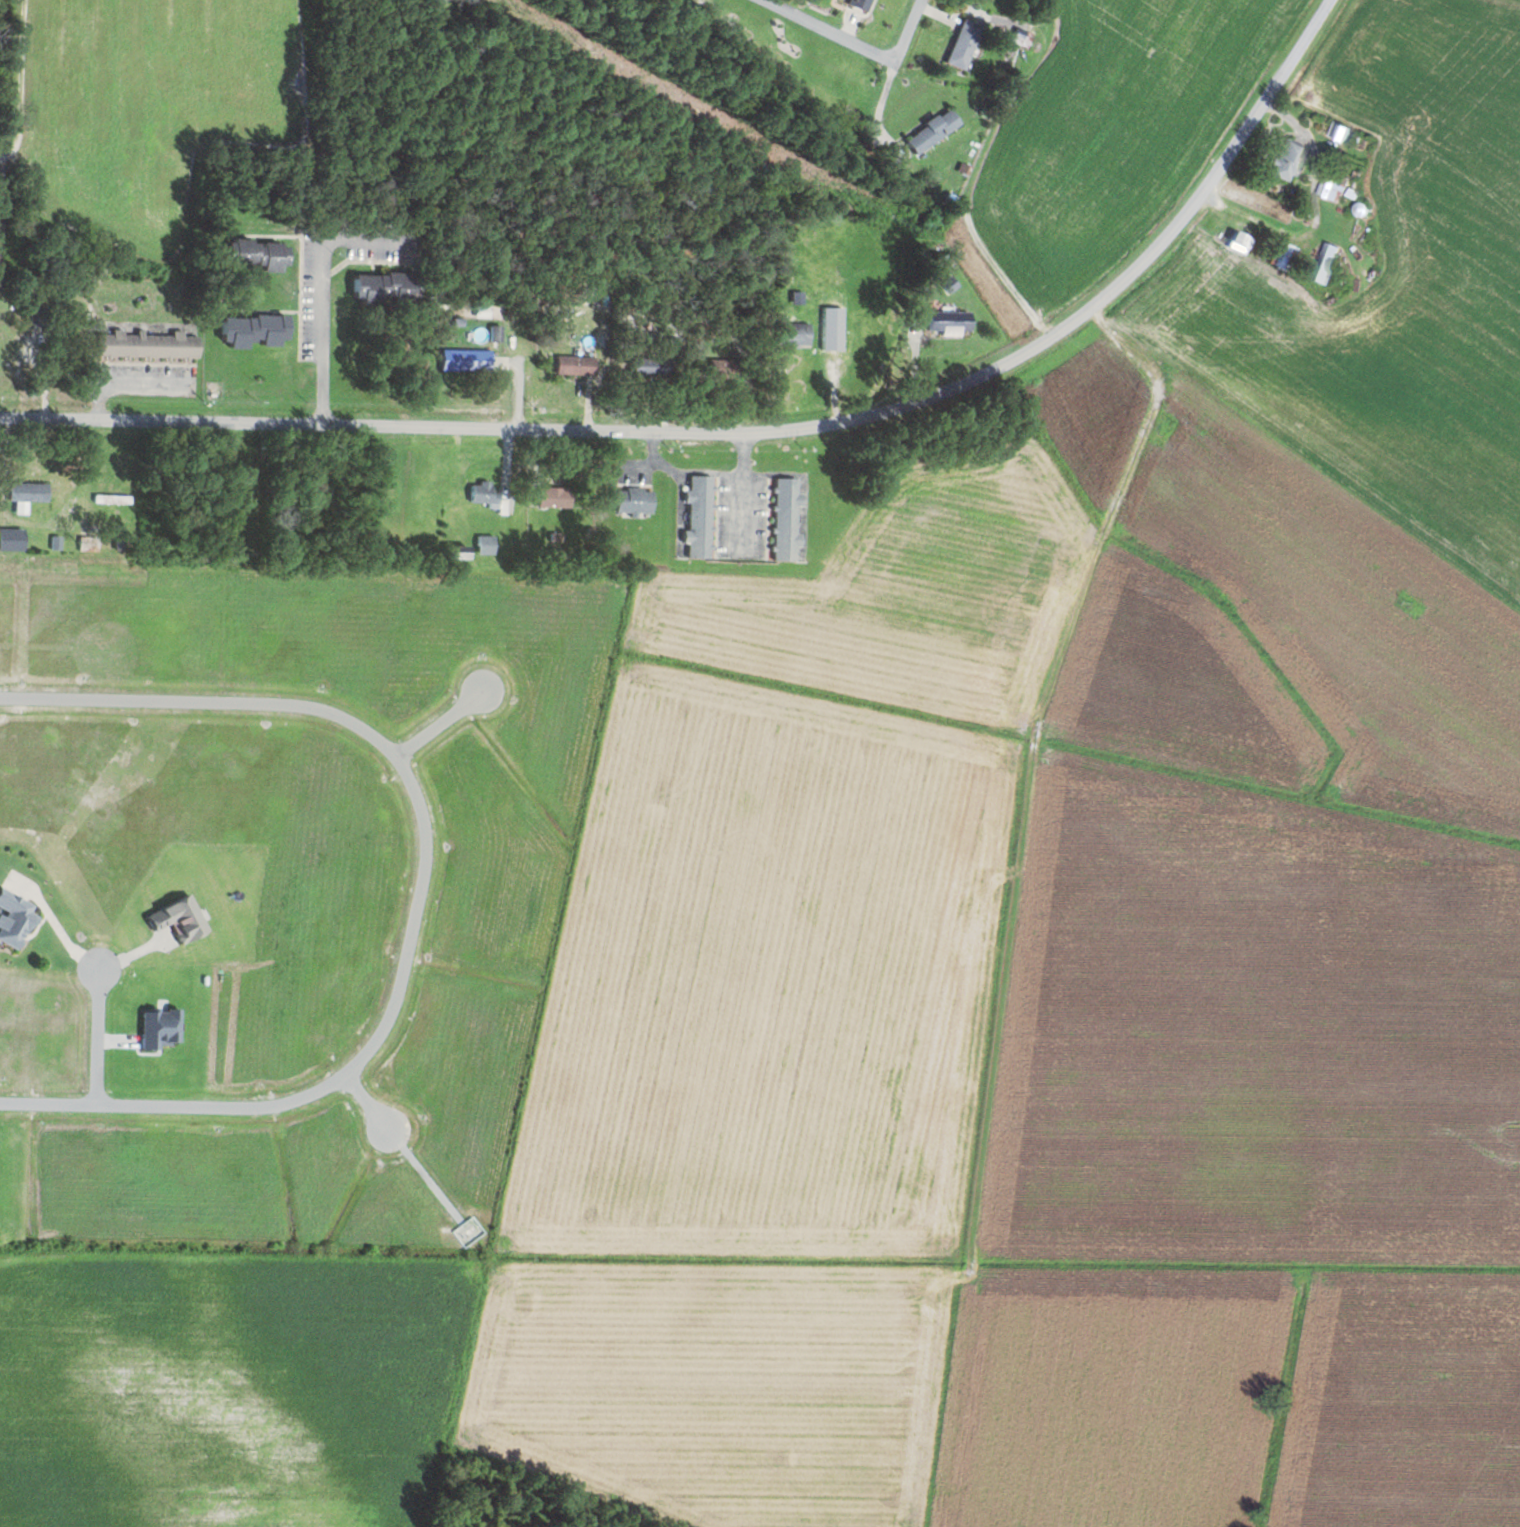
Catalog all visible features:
building: (860, 4)
building: (1022, 38)
building: (964, 45)
road: (884, 55)
road: (893, 70)
building: (932, 131)
building: (1340, 131)
road: (0, 159)
building: (1286, 160)
building: (1333, 186)
road: (1199, 195)
building: (1239, 242)
building: (257, 255)
building: (1283, 256)
building: (1325, 263)
building: (386, 289)
road: (518, 316)
building: (949, 322)
building: (254, 330)
building: (793, 334)
building: (147, 345)
building: (468, 361)
building: (574, 365)
building: (652, 365)
road: (520, 429)
building: (483, 492)
building: (554, 496)
building: (634, 499)
building: (698, 515)
building: (784, 518)
building: (12, 539)
building: (486, 545)
road: (443, 724)
road: (424, 895)
building: (14, 918)
road: (99, 1036)
road: (368, 1101)
building: (466, 1230)

